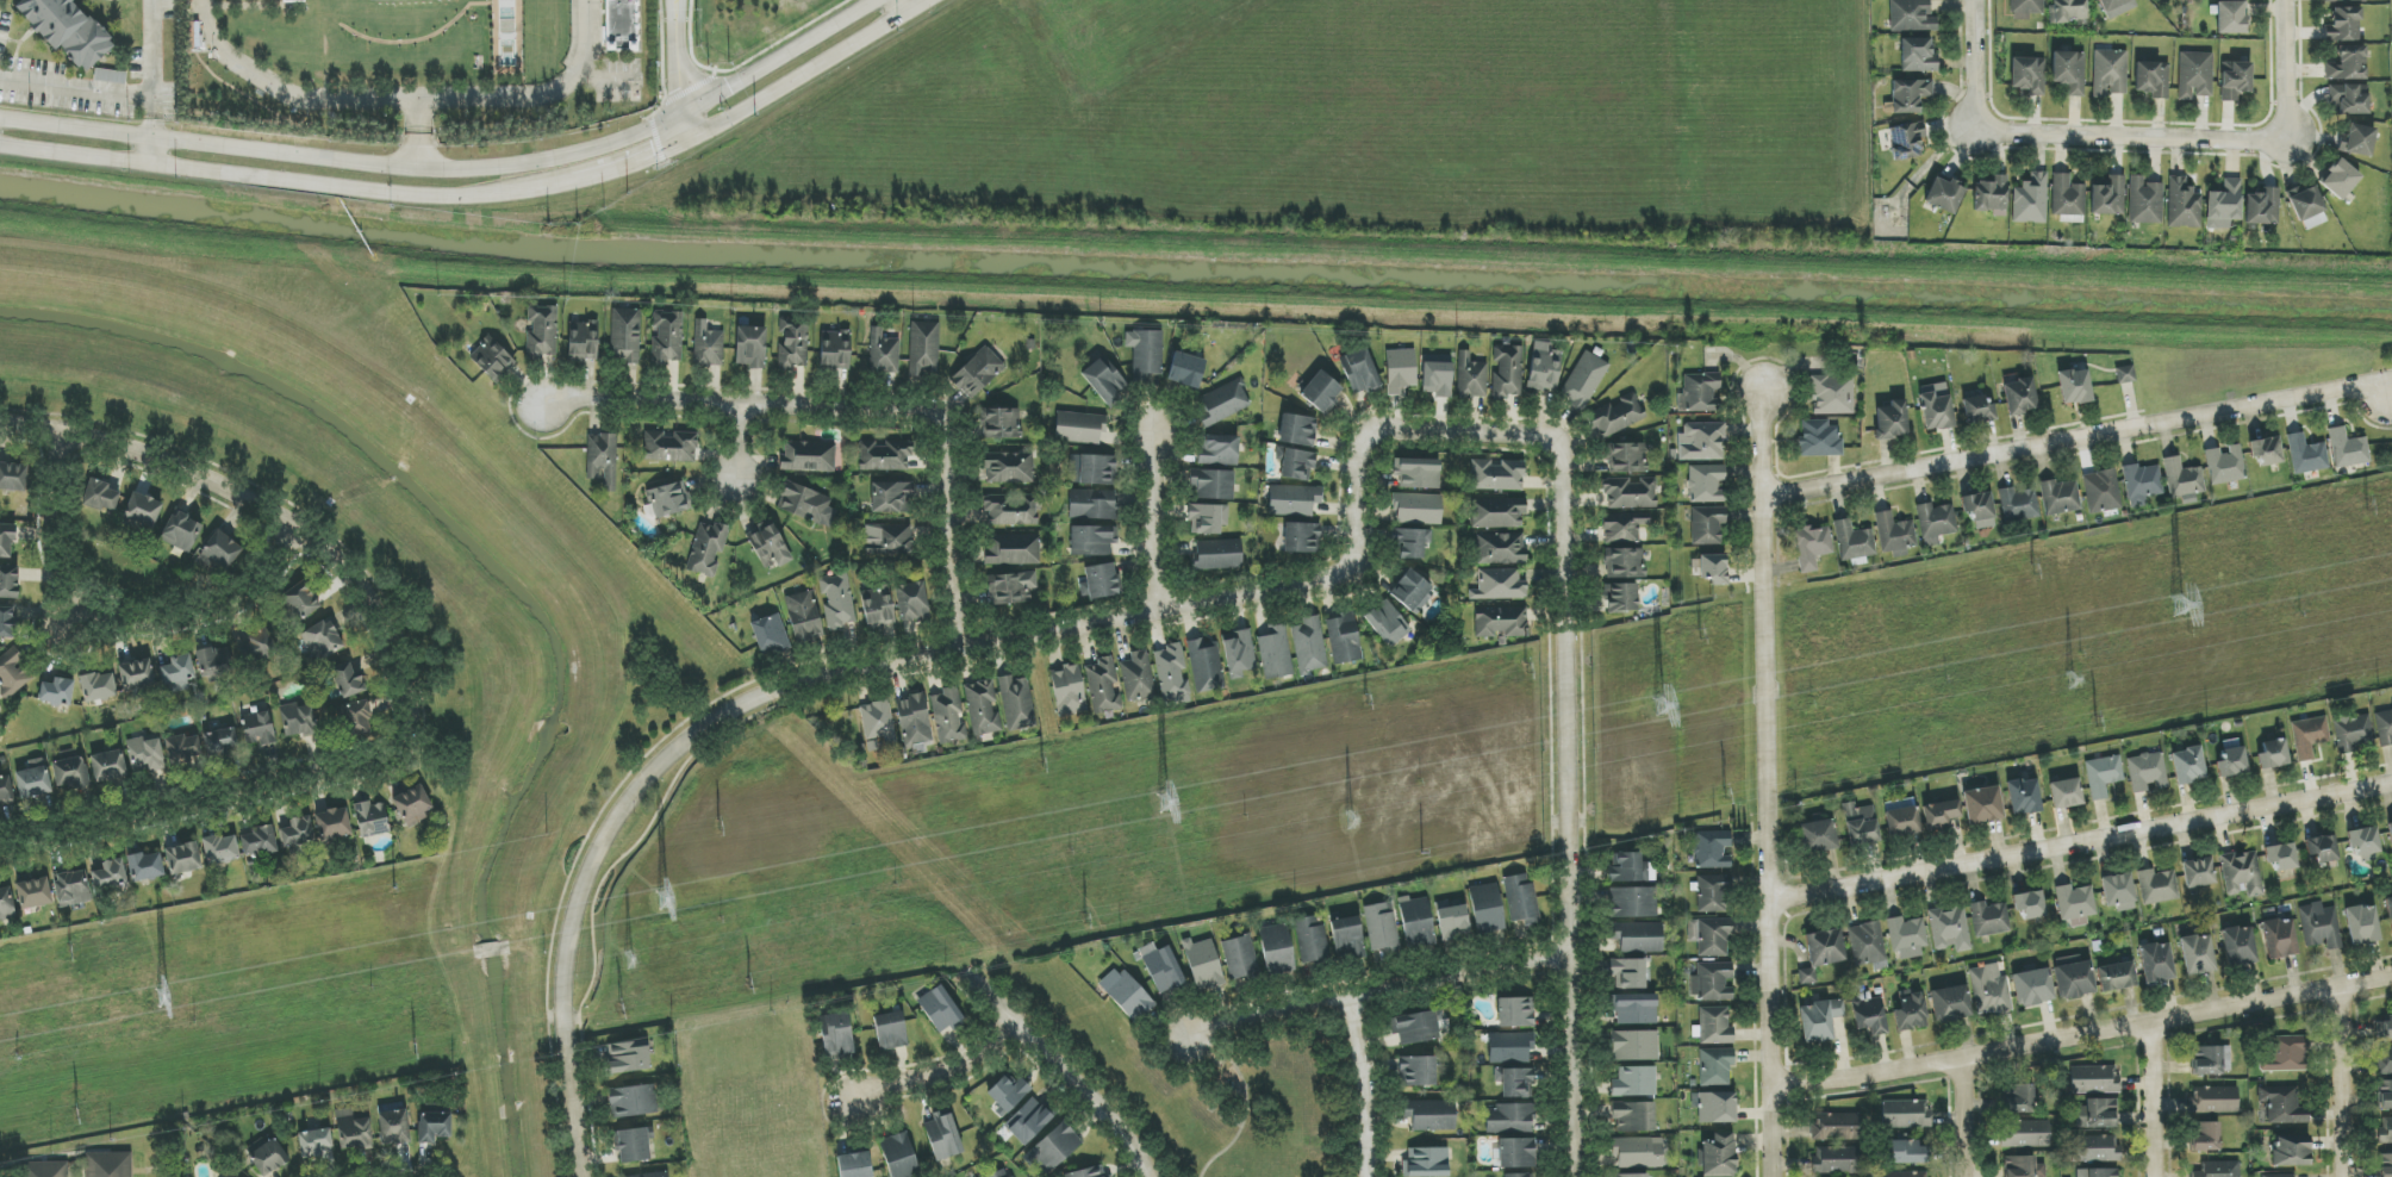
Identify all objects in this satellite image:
building: (2343, 0)
road: (902, 7)
building: (2116, 7)
building: (2025, 8)
building: (2068, 11)
building: (1911, 15)
building: (2231, 18)
building: (621, 25)
building: (2343, 25)
building: (64, 30)
building: (1918, 56)
building: (2348, 64)
road: (1974, 66)
road: (150, 68)
road: (2287, 70)
road: (674, 71)
road: (810, 71)
building: (2069, 71)
building: (2108, 73)
building: (2029, 75)
building: (2195, 75)
building: (110, 76)
building: (2153, 79)
building: (2235, 81)
road: (287, 89)
road: (75, 93)
road: (537, 93)
building: (1908, 95)
building: (2349, 99)
road: (417, 133)
road: (2131, 136)
building: (2357, 141)
building: (1907, 142)
road: (151, 151)
road: (455, 169)
road: (609, 172)
road: (262, 179)
building: (2340, 180)
building: (1944, 195)
building: (1991, 195)
building: (2107, 195)
building: (2067, 199)
building: (2030, 200)
building: (2144, 201)
building: (2305, 203)
building: (2182, 205)
building: (2223, 205)
building: (2262, 207)
building: (2313, 222)
building: (542, 331)
building: (625, 337)
building: (667, 338)
building: (583, 341)
building: (792, 345)
building: (708, 347)
building: (750, 347)
building: (924, 349)
building: (834, 350)
building: (884, 354)
building: (1147, 355)
building: (492, 360)
building: (1544, 367)
building: (1185, 370)
building: (1400, 370)
building: (977, 372)
building: (1360, 372)
building: (1508, 372)
building: (2125, 374)
building: (1437, 375)
building: (1471, 378)
building: (1103, 380)
building: (1583, 381)
building: (2074, 387)
building: (1321, 392)
building: (1699, 393)
building: (1832, 394)
building: (2019, 397)
building: (1222, 403)
building: (1936, 406)
road: (854, 410)
building: (1977, 411)
building: (1618, 415)
building: (1892, 421)
building: (1001, 423)
building: (1079, 428)
building: (1297, 430)
road: (1469, 434)
building: (1820, 438)
road: (2076, 438)
building: (1702, 442)
building: (671, 447)
road: (737, 448)
building: (2347, 449)
building: (1217, 450)
building: (2266, 452)
building: (597, 455)
building: (2306, 455)
building: (809, 456)
building: (885, 456)
building: (1627, 457)
building: (1296, 465)
building: (2224, 465)
building: (1009, 468)
building: (1094, 469)
building: (1418, 473)
building: (1497, 475)
building: (13, 477)
building: (2182, 479)
building: (1213, 484)
building: (1707, 484)
building: (2141, 484)
building: (2101, 492)
building: (1630, 493)
building: (100, 496)
road: (1358, 496)
building: (2060, 497)
building: (891, 498)
building: (1294, 500)
building: (665, 502)
building: (1092, 504)
building: (806, 505)
building: (2018, 505)
power tower: (2366, 505)
building: (1977, 506)
building: (1418, 509)
building: (1010, 510)
building: (142, 511)
building: (1497, 512)
building: (1204, 519)
building: (1936, 522)
road: (1151, 523)
building: (1707, 525)
building: (1624, 527)
building: (181, 531)
building: (1894, 535)
building: (889, 537)
building: (1301, 538)
building: (6, 541)
building: (1092, 541)
building: (1852, 541)
building: (768, 544)
building: (1408, 544)
building: (1812, 547)
building: (708, 548)
building: (1013, 549)
building: (1501, 549)
building: (220, 550)
road: (291, 554)
building: (1219, 554)
building: (1624, 563)
building: (1713, 568)
power tower: (2035, 569)
building: (1098, 581)
building: (8, 583)
building: (1499, 585)
building: (1014, 587)
building: (1410, 590)
building: (1619, 598)
building: (300, 602)
building: (837, 602)
building: (914, 602)
power tower: (2173, 605)
building: (878, 608)
building: (804, 617)
building: (1501, 622)
building: (7, 623)
building: (1387, 623)
power tower: (1700, 634)
building: (771, 635)
road: (93, 636)
building: (1343, 639)
building: (323, 641)
building: (258, 644)
building: (1309, 646)
building: (1238, 653)
building: (1275, 653)
building: (214, 661)
building: (1204, 666)
power tower: (1526, 668)
building: (177, 670)
building: (12, 673)
building: (1172, 673)
building: (136, 674)
power tower: (2072, 675)
building: (1138, 677)
building: (348, 681)
building: (1104, 685)
building: (98, 687)
road: (779, 689)
building: (1067, 691)
building: (56, 692)
power tower: (1368, 699)
road: (1564, 702)
building: (1017, 703)
building: (983, 708)
power tower: (1651, 708)
building: (949, 716)
building: (355, 718)
building: (298, 720)
power tower: (2094, 721)
building: (878, 722)
building: (914, 722)
building: (2384, 725)
building: (257, 729)
building: (2351, 733)
building: (2309, 736)
building: (220, 741)
building: (183, 748)
building: (145, 754)
building: (2273, 754)
power tower: (1042, 762)
building: (2231, 762)
building: (108, 765)
building: (2187, 766)
building: (2147, 772)
building: (70, 773)
road: (1763, 774)
building: (2103, 776)
building: (33, 781)
building: (6, 790)
power tower: (1723, 793)
building: (2066, 793)
building: (2023, 797)
building: (412, 804)
building: (1982, 805)
power tower: (1157, 807)
building: (1939, 815)
road: (164, 817)
building: (1901, 817)
building: (372, 818)
power tower: (1358, 822)
building: (332, 824)
building: (1860, 824)
power tower: (718, 826)
building: (298, 832)
building: (2391, 834)
building: (1818, 835)
building: (260, 841)
building: (2365, 843)
road: (2078, 845)
building: (220, 849)
building: (1712, 849)
building: (2322, 849)
power tower: (1422, 857)
building: (2281, 857)
building: (183, 859)
building: (145, 867)
building: (1625, 867)
building: (2198, 873)
building: (110, 874)
building: (2241, 874)
building: (2157, 886)
building: (71, 888)
power tower: (394, 888)
building: (2118, 892)
building: (33, 893)
building: (1713, 893)
building: (1521, 899)
power tower: (665, 902)
building: (1634, 902)
building: (6, 904)
building: (2029, 904)
building: (2075, 904)
building: (1487, 909)
building: (2390, 913)
building: (1989, 918)
power tower: (1084, 921)
building: (1452, 921)
building: (1416, 922)
building: (2362, 924)
building: (2319, 926)
building: (1382, 928)
building: (1950, 929)
building: (1711, 936)
building: (1638, 938)
building: (1907, 938)
building: (2279, 938)
building: (1347, 939)
building: (1309, 940)
building: (1868, 944)
building: (2237, 946)
building: (1276, 948)
power tower: (71, 951)
building: (1821, 952)
building: (2197, 954)
building: (1239, 958)
building: (2156, 963)
power tower: (631, 964)
building: (1203, 965)
building: (1161, 969)
building: (1628, 973)
building: (2073, 977)
building: (2116, 977)
building: (1713, 982)
power tower: (749, 983)
building: (2032, 988)
building: (1989, 990)
road: (1377, 991)
power tower: (163, 997)
building: (1129, 997)
building: (1950, 1004)
power tower: (621, 1009)
building: (941, 1009)
building: (1636, 1009)
building: (1911, 1011)
building: (1516, 1013)
building: (1869, 1014)
building: (1819, 1021)
building: (1715, 1026)
building: (1415, 1027)
building: (2384, 1028)
building: (890, 1030)
building: (836, 1036)
road: (2080, 1039)
building: (1636, 1046)
building: (1509, 1047)
power tower: (410, 1051)
building: (2285, 1054)
building: (628, 1057)
building: (2210, 1060)
building: (2384, 1061)
road: (1570, 1066)
building: (1715, 1066)
building: (1416, 1071)
road: (1064, 1073)
road: (939, 1075)
building: (2093, 1079)
building: (1634, 1082)
building: (1515, 1083)
road: (2341, 1083)
road: (1365, 1085)
building: (1007, 1094)
building: (2385, 1095)
building: (2018, 1098)
building: (2213, 1100)
building: (633, 1101)
road: (1245, 1101)
road: (2151, 1101)
building: (2282, 1106)
building: (1717, 1108)
power tower: (77, 1113)
building: (1905, 1114)
building: (2097, 1114)
building: (1431, 1115)
building: (1633, 1116)
building: (1508, 1119)
road: (1962, 1120)
building: (1027, 1121)
building: (393, 1127)
building: (434, 1127)
building: (1835, 1127)
building: (2385, 1131)
building: (2025, 1134)
building: (943, 1135)
building: (2205, 1136)
building: (314, 1142)
building: (633, 1145)
building: (1054, 1147)
building: (2097, 1150)
building: (2290, 1151)
building: (1516, 1153)
building: (1637, 1153)
building: (1907, 1153)
building: (267, 1156)
building: (899, 1156)
building: (1718, 1156)
building: (1837, 1159)
building: (1426, 1163)
building: (108, 1164)
building: (2385, 1164)
building: (854, 1165)
building: (2023, 1167)
building: (46, 1170)
building: (2218, 1170)
building: (1090, 1172)
building: (2097, 1172)
building: (1002, 1173)
building: (654, 1175)
building: (1515, 1175)
building: (1902, 1175)
building: (229, 1176)
building: (1631, 1176)
building: (2279, 1176)

